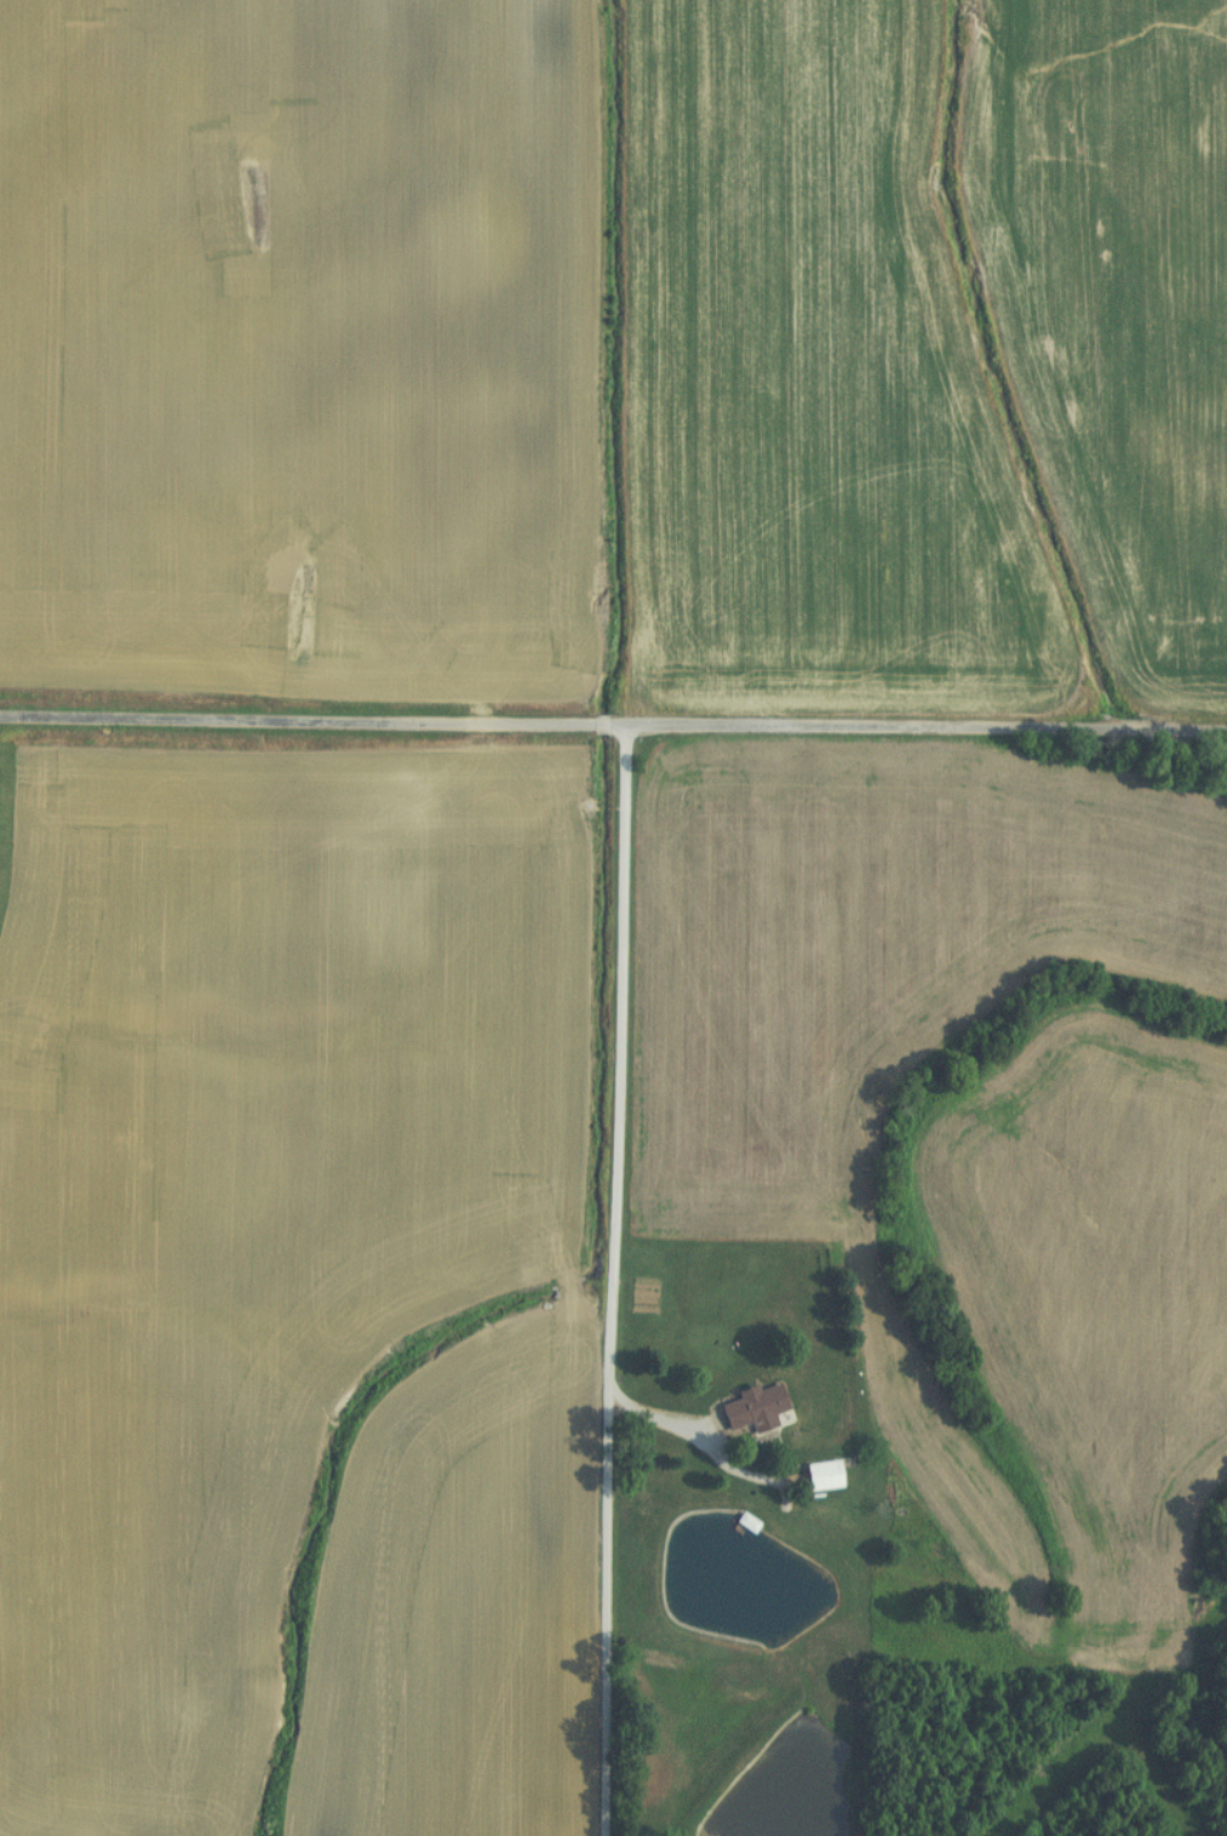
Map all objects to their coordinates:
road: (613, 722)
road: (617, 1279)
building: (747, 1405)
road: (675, 1424)
building: (816, 1475)

